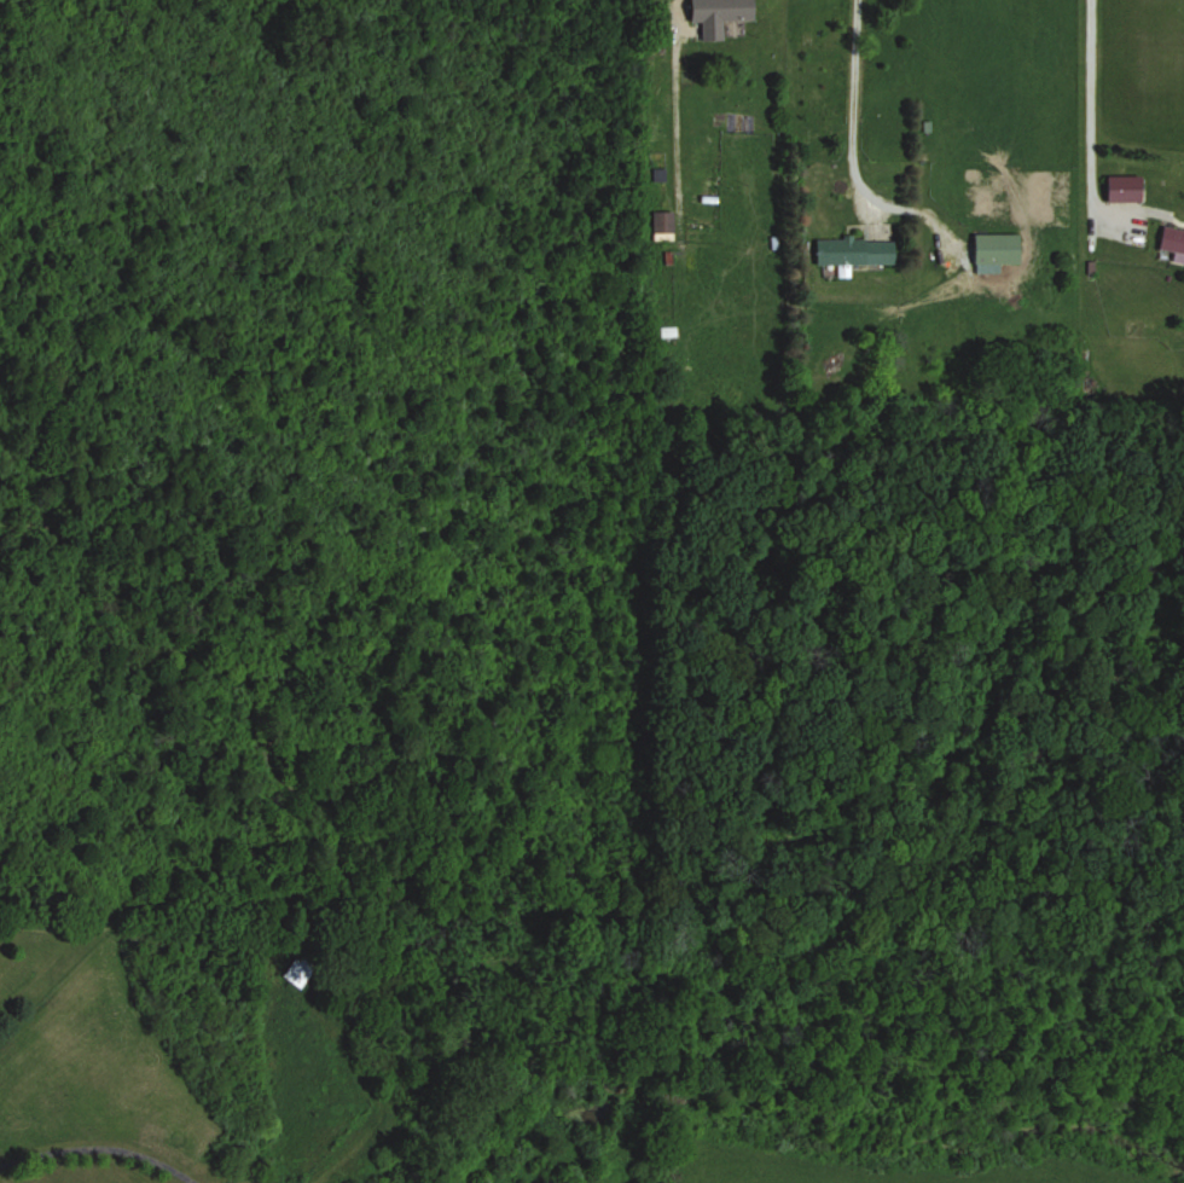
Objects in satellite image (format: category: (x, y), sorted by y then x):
road: (675, 6)
building: (707, 22)
road: (852, 108)
road: (1089, 121)
building: (662, 226)
building: (1172, 239)
building: (997, 248)
building: (855, 251)
building: (298, 972)
road: (101, 1143)

